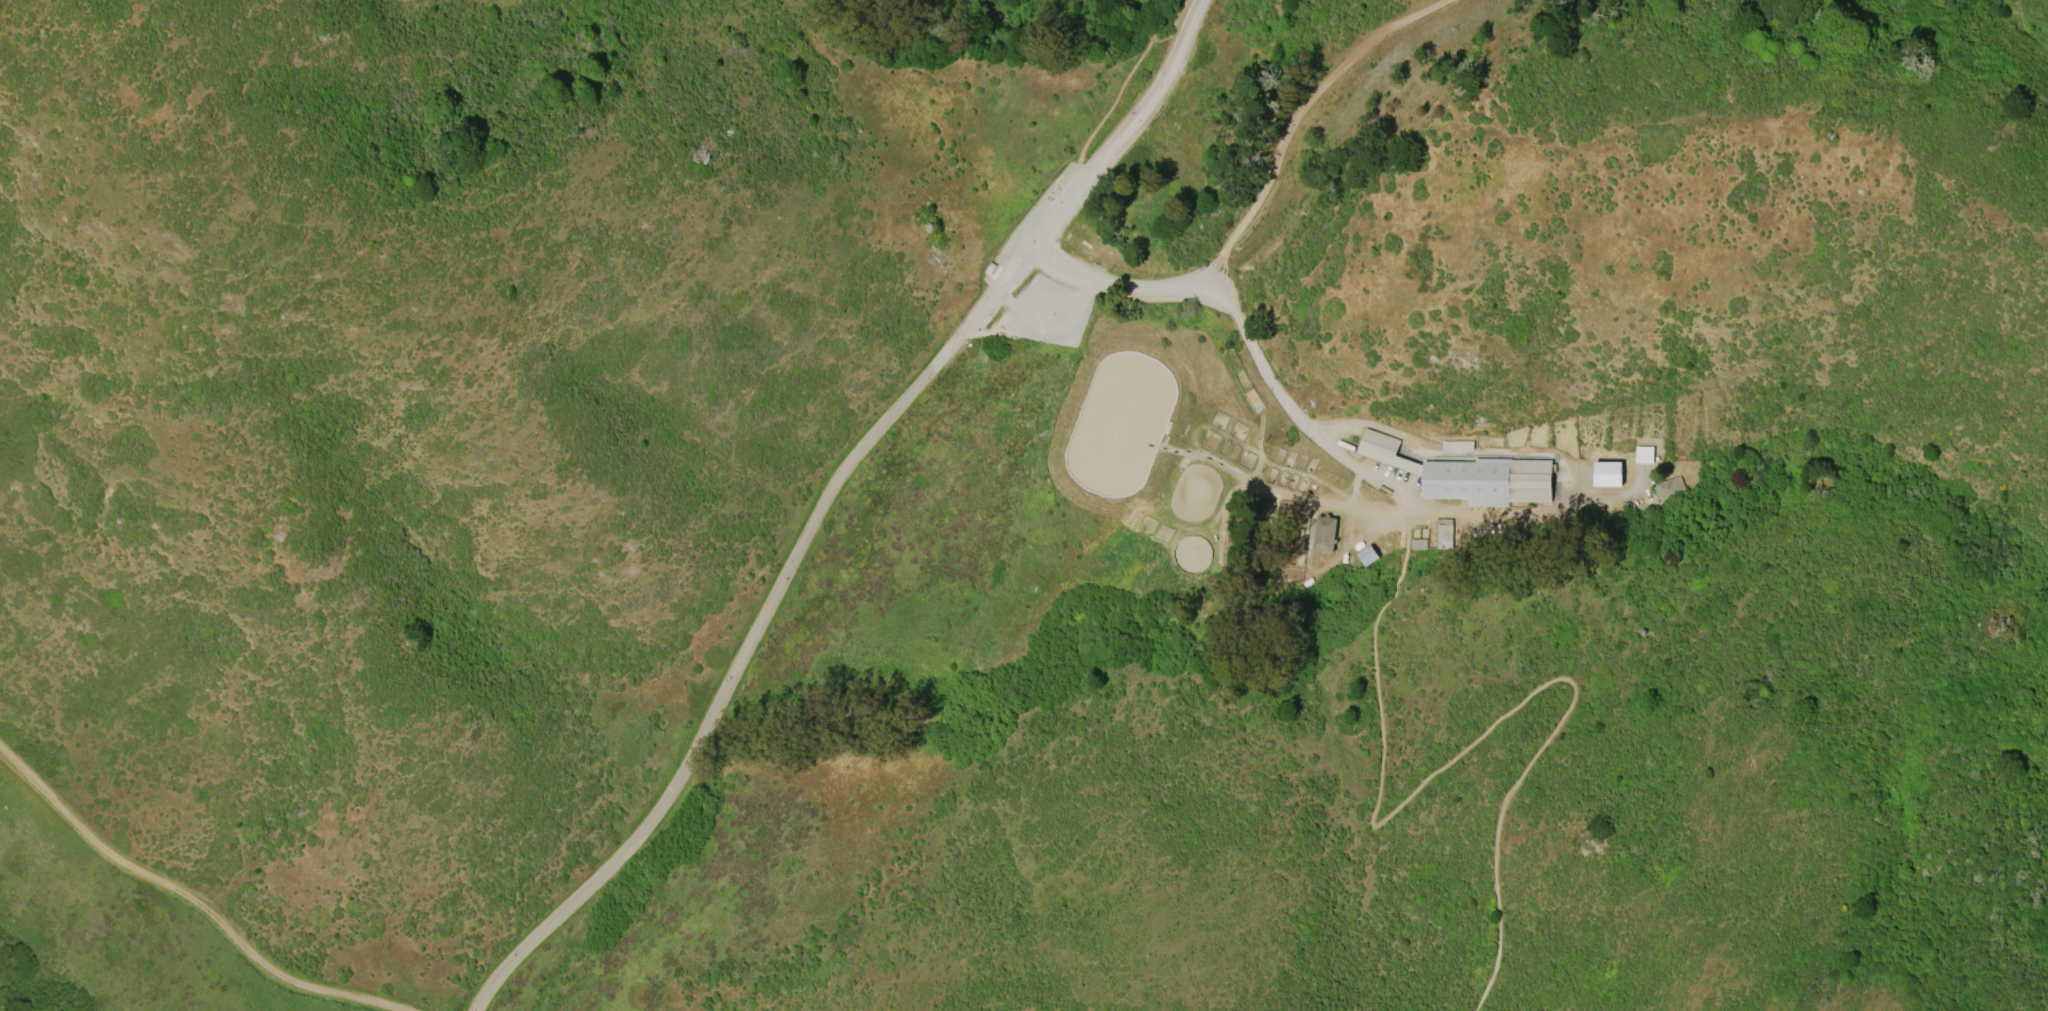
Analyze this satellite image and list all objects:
road: (1176, 33)
road: (1361, 47)
road: (1122, 91)
road: (1154, 97)
road: (1256, 202)
parking lot: (1041, 210)
road: (1060, 212)
road: (1114, 288)
road: (997, 290)
parking lot: (1043, 309)
road: (1054, 327)
road: (1291, 410)
park: (1120, 422)
building: (1458, 449)
building: (1486, 483)
building: (1668, 488)
building: (1445, 533)
building: (1418, 544)
building: (1367, 555)
road: (732, 686)
road: (1478, 741)
road: (186, 898)

